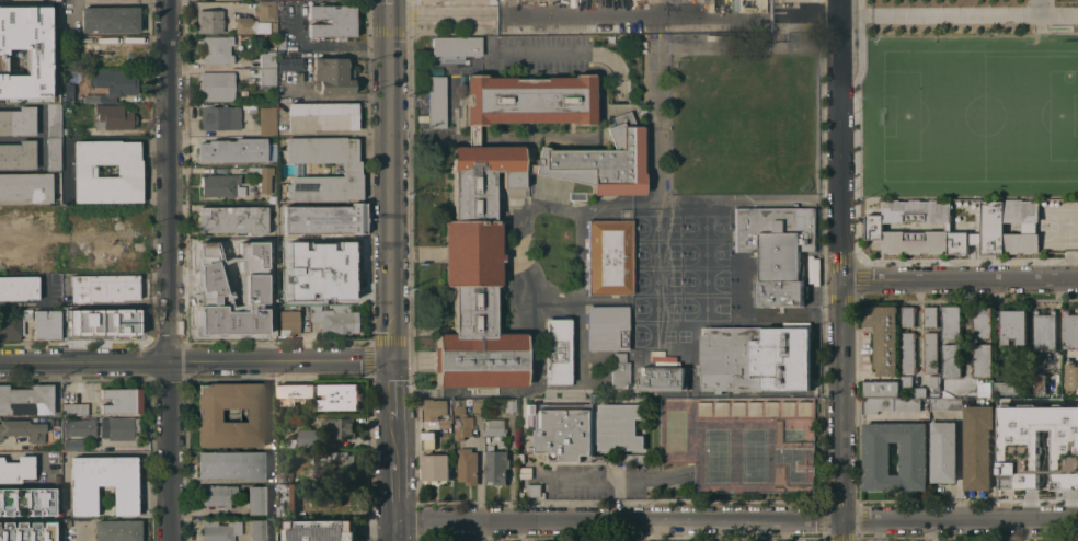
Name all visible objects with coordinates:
road: (205, 3)
road: (509, 8)
road: (391, 9)
building: (264, 10)
road: (932, 14)
road: (443, 16)
road: (634, 16)
road: (806, 16)
building: (110, 19)
building: (208, 21)
building: (332, 21)
building: (250, 25)
building: (273, 27)
building: (628, 28)
building: (65, 38)
building: (280, 42)
road: (330, 44)
building: (456, 46)
building: (113, 48)
building: (217, 49)
road: (520, 50)
building: (24, 53)
building: (267, 58)
building: (289, 64)
building: (267, 76)
building: (332, 76)
building: (113, 84)
building: (216, 85)
building: (68, 92)
building: (435, 101)
building: (249, 105)
park: (968, 114)
building: (113, 116)
building: (321, 116)
building: (219, 117)
building: (53, 119)
building: (16, 120)
building: (266, 120)
building: (62, 130)
road: (839, 141)
building: (232, 149)
building: (53, 153)
building: (16, 154)
building: (351, 169)
building: (128, 171)
building: (263, 176)
building: (221, 185)
building: (25, 186)
road: (392, 188)
building: (272, 198)
building: (233, 219)
building: (324, 219)
building: (1004, 220)
building: (873, 226)
building: (471, 238)
building: (961, 241)
building: (1021, 241)
building: (776, 249)
building: (608, 256)
building: (320, 269)
road: (170, 270)
building: (255, 273)
building: (209, 278)
road: (959, 280)
building: (18, 287)
building: (103, 287)
building: (269, 306)
building: (99, 312)
building: (907, 315)
building: (930, 315)
building: (295, 319)
building: (229, 320)
building: (337, 320)
building: (951, 321)
building: (77, 322)
building: (124, 322)
building: (980, 322)
building: (13, 324)
building: (45, 324)
building: (1012, 325)
building: (606, 327)
building: (1069, 327)
building: (1044, 330)
building: (882, 336)
building: (555, 350)
building: (908, 352)
building: (930, 352)
building: (754, 358)
building: (951, 359)
building: (982, 359)
road: (196, 360)
building: (618, 371)
building: (1070, 375)
building: (662, 378)
building: (906, 381)
building: (933, 383)
building: (1040, 383)
building: (1005, 388)
building: (881, 389)
building: (919, 391)
building: (295, 392)
building: (341, 396)
building: (25, 400)
road: (840, 400)
building: (121, 401)
road: (393, 402)
building: (890, 403)
building: (944, 403)
building: (478, 405)
building: (509, 405)
building: (76, 408)
building: (433, 408)
building: (209, 415)
building: (528, 415)
building: (297, 417)
building: (460, 421)
building: (444, 423)
building: (343, 427)
building: (494, 427)
building: (102, 428)
building: (22, 429)
building: (585, 429)
building: (309, 438)
building: (428, 440)
building: (282, 442)
building: (741, 442)
building: (72, 445)
building: (976, 446)
building: (1037, 447)
building: (943, 451)
building: (634, 458)
building: (876, 458)
building: (232, 464)
building: (334, 464)
building: (468, 465)
building: (495, 465)
building: (435, 467)
building: (15, 469)
building: (525, 473)
road: (586, 474)
building: (284, 475)
road: (395, 481)
building: (103, 483)
building: (535, 490)
building: (217, 494)
building: (11, 496)
building: (332, 498)
building: (257, 499)
building: (286, 499)
building: (39, 505)
road: (205, 509)
road: (619, 518)
road: (960, 518)
road: (26, 519)
road: (842, 529)
road: (930, 529)
building: (53, 530)
building: (117, 530)
building: (220, 530)
building: (257, 530)
building: (320, 530)
road: (397, 530)
building: (18, 531)

